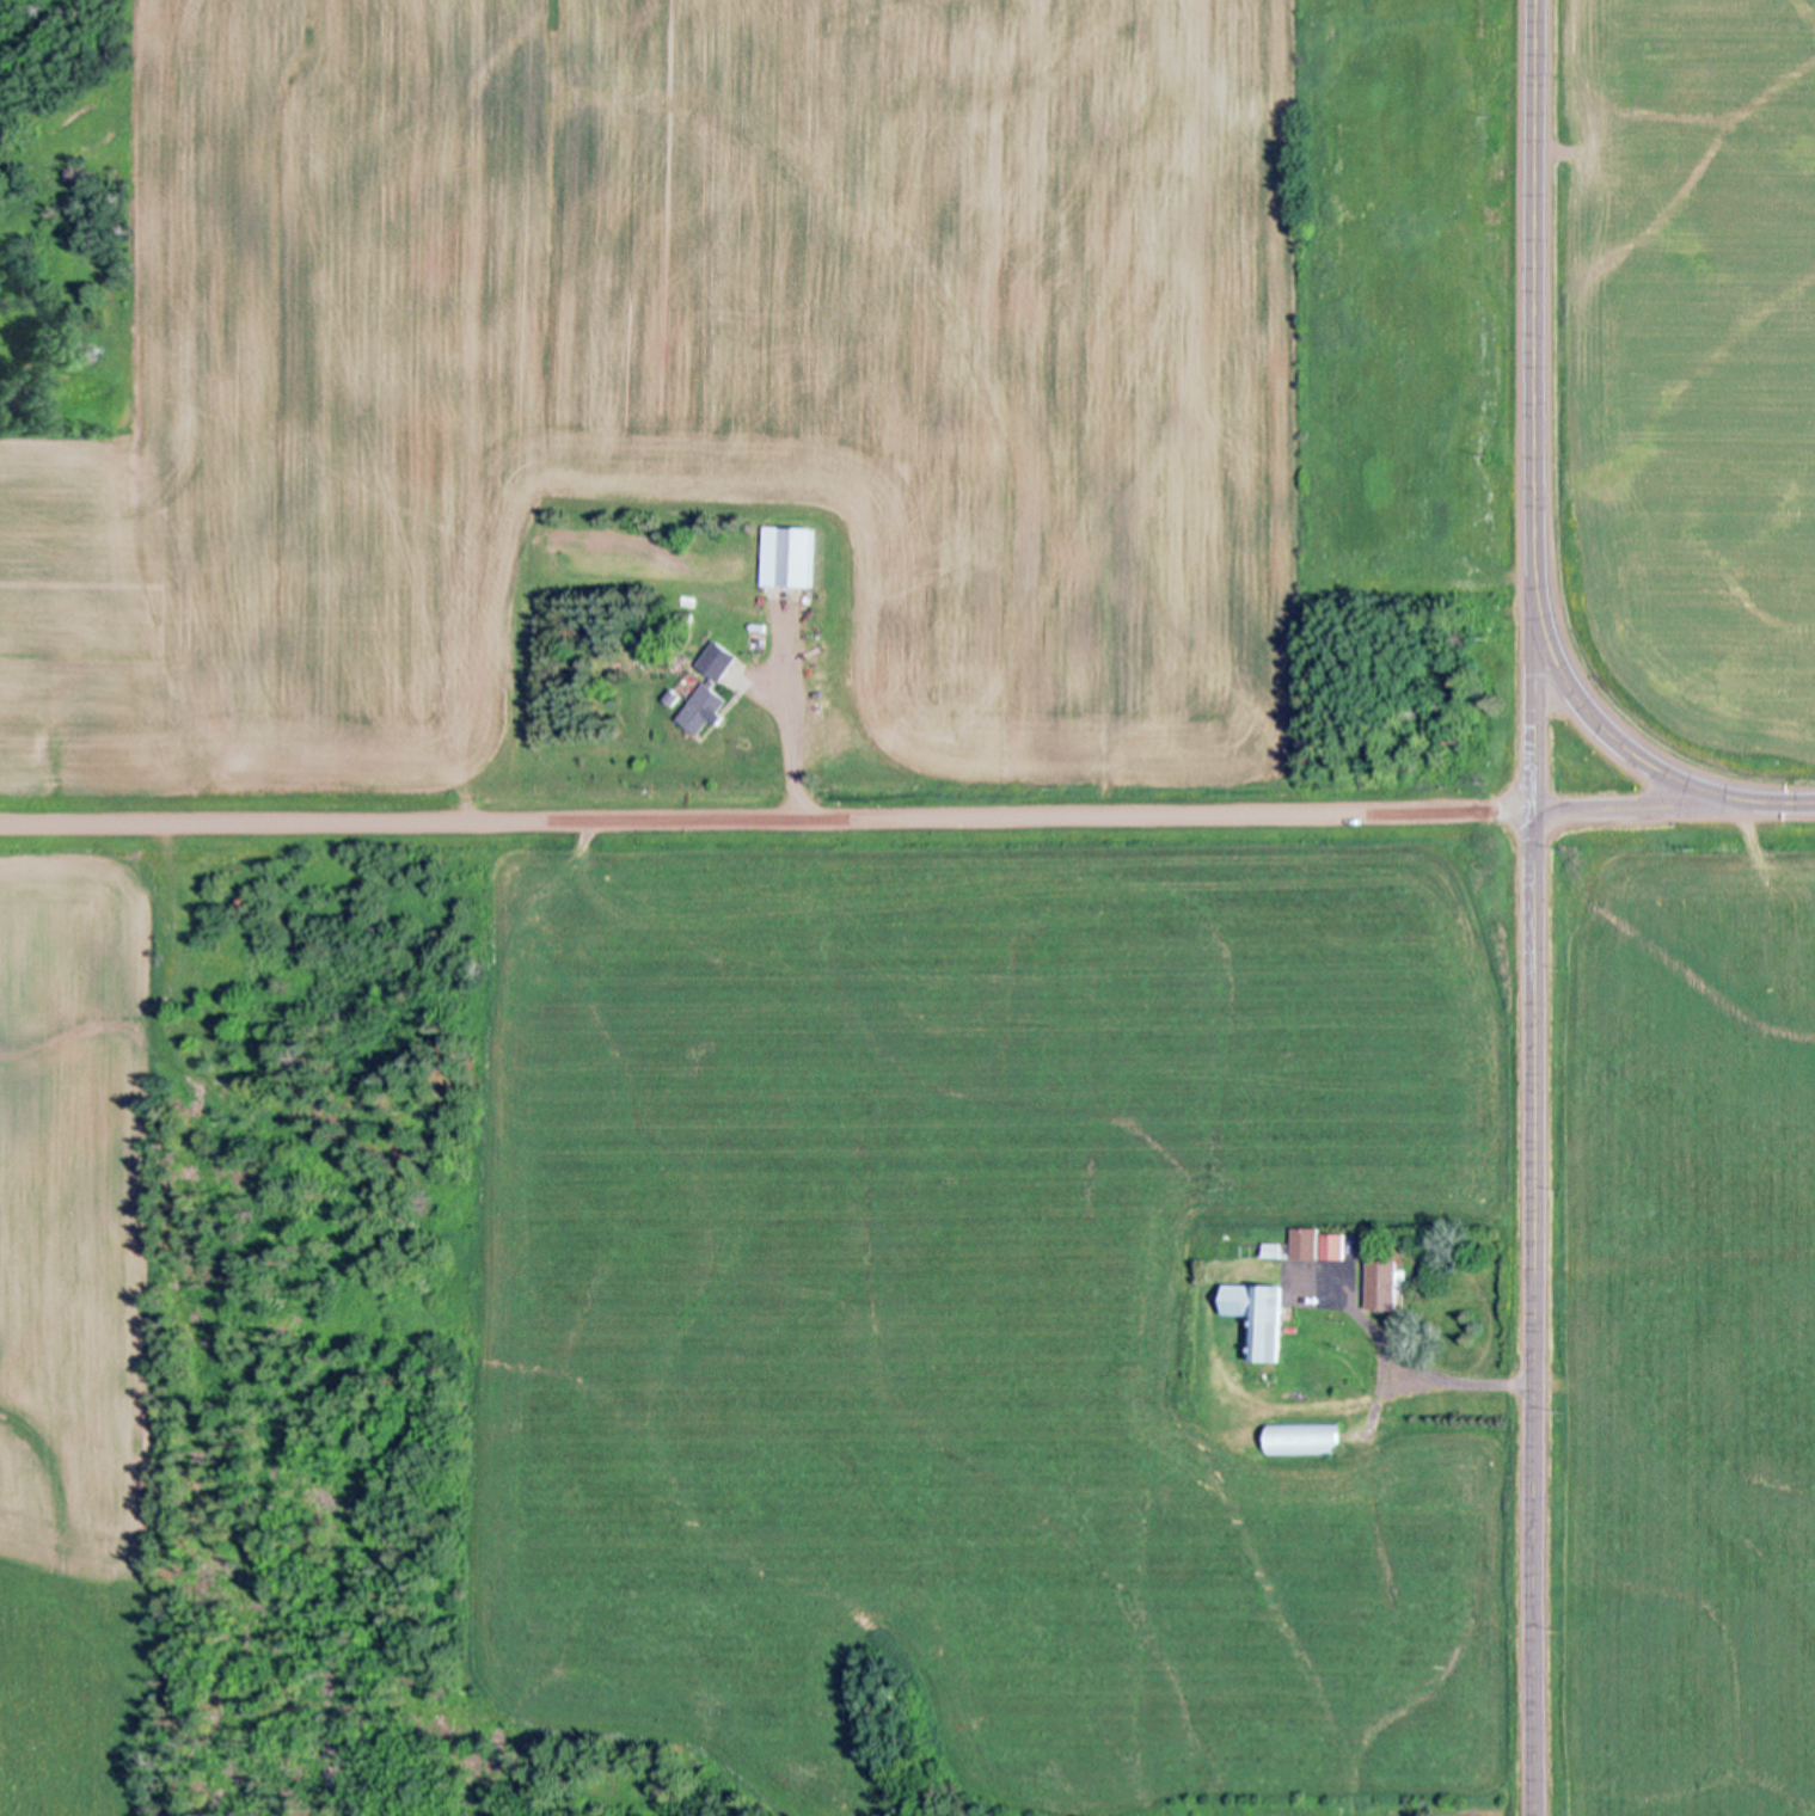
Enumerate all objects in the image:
road: (1538, 287)
building: (792, 557)
building: (721, 661)
building: (705, 708)
road: (1609, 731)
road: (1790, 805)
road: (883, 808)
road: (1532, 1177)
building: (1311, 1245)
building: (1384, 1283)
building: (1256, 1314)
building: (1304, 1437)
road: (1529, 1798)

